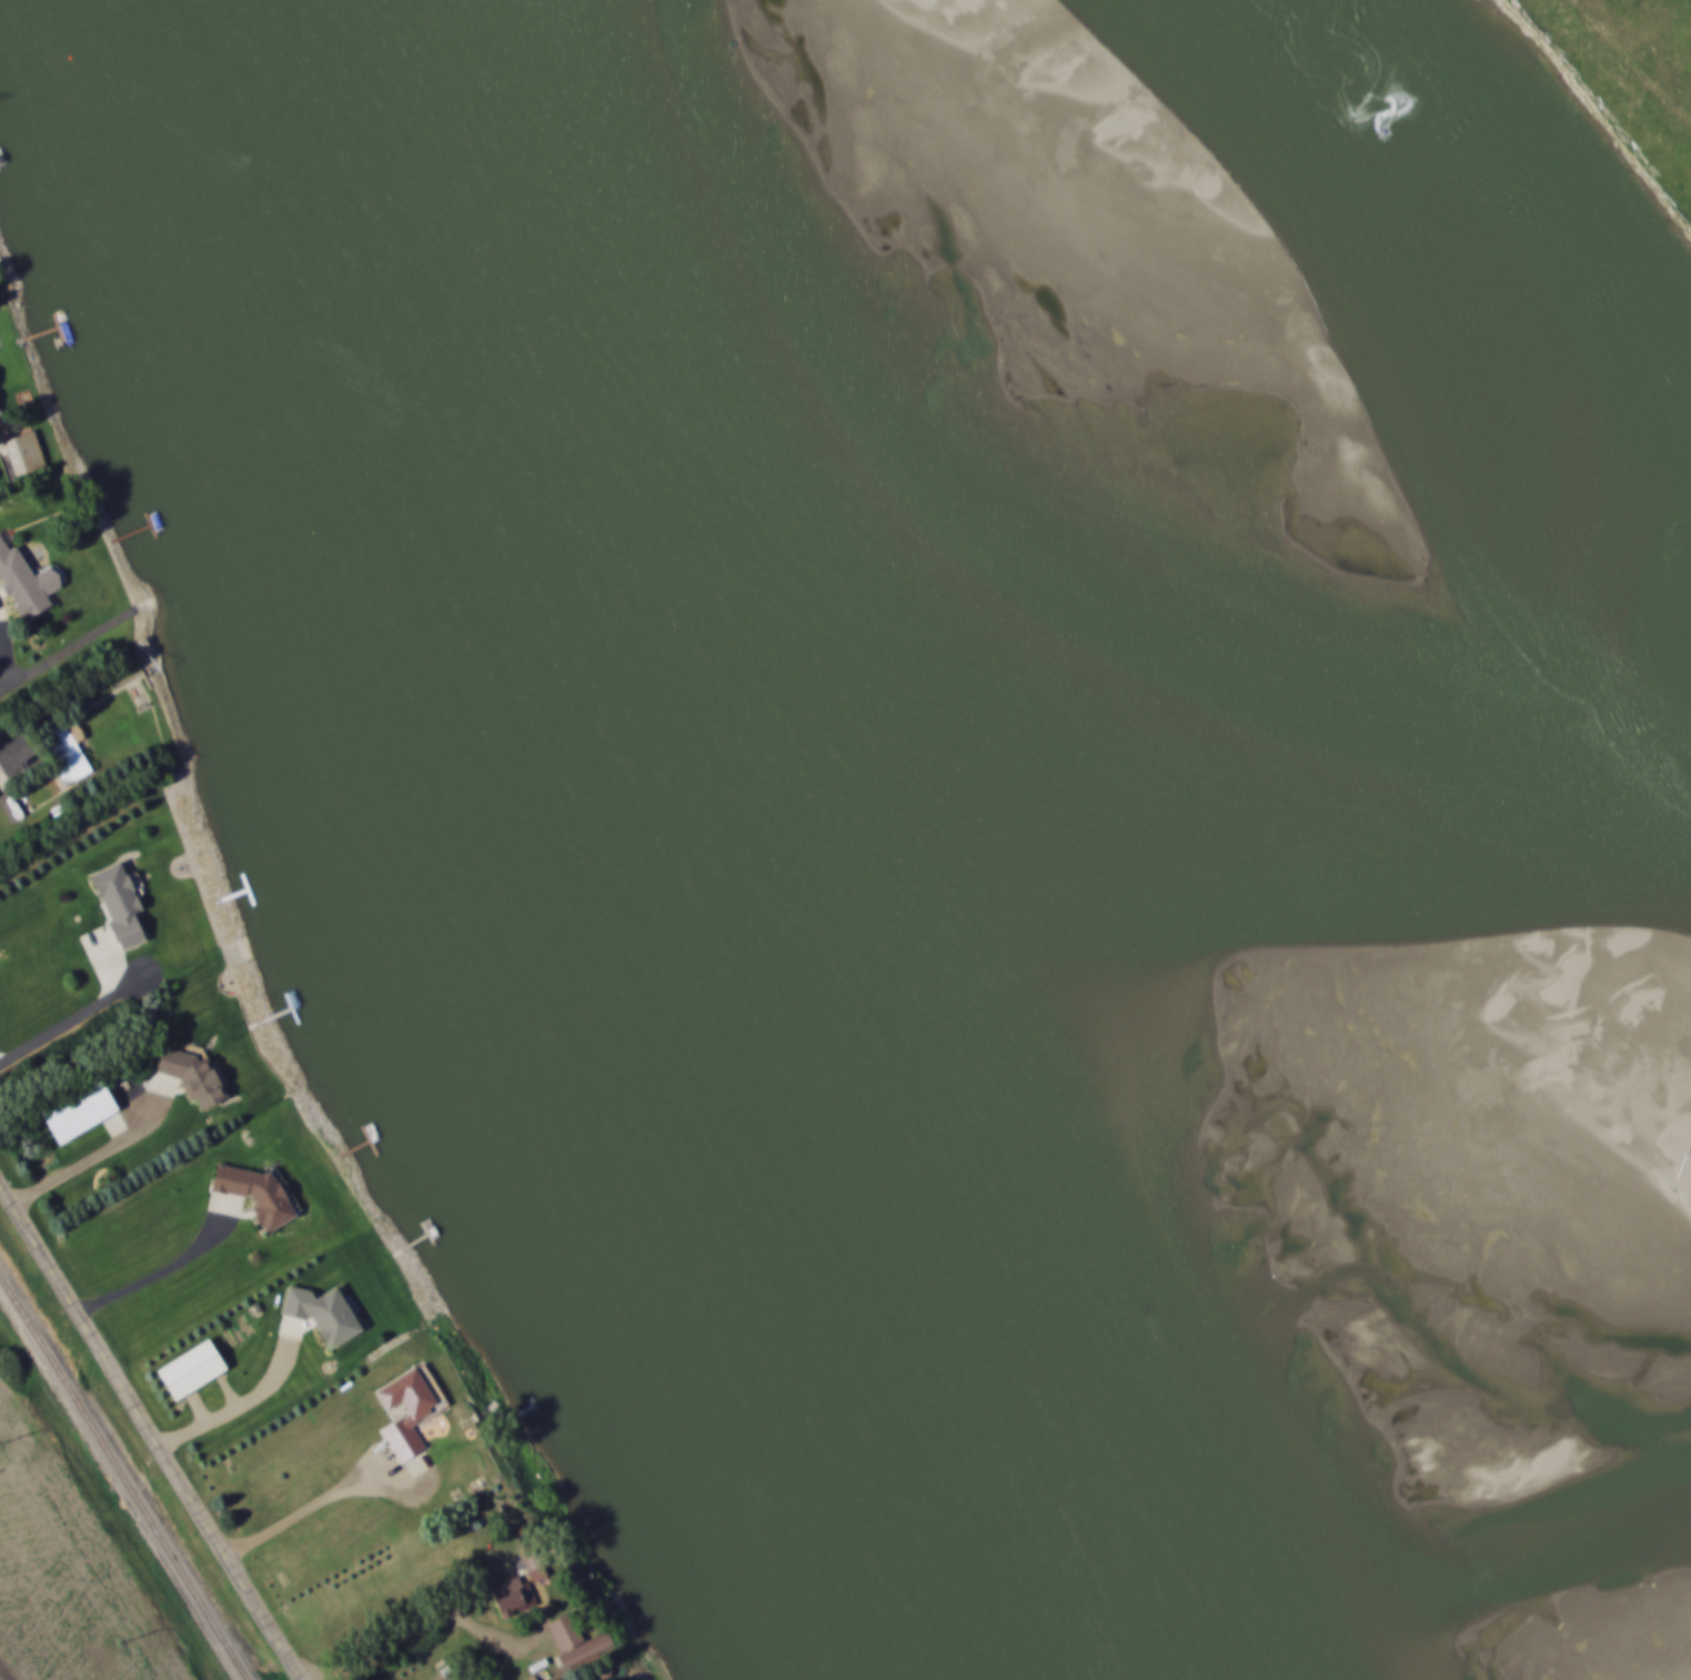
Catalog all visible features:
river: (1285, 385)
building: (0, 413)
building: (28, 455)
building: (28, 583)
road: (67, 657)
building: (66, 758)
road: (70, 848)
building: (117, 905)
building: (190, 1077)
building: (77, 1111)
building: (254, 1194)
road: (162, 1269)
building: (321, 1315)
building: (189, 1371)
building: (409, 1419)
road: (154, 1427)
railway: (122, 1485)
road: (305, 1506)
building: (535, 1575)
building: (509, 1598)
road: (429, 1620)
building: (574, 1641)

